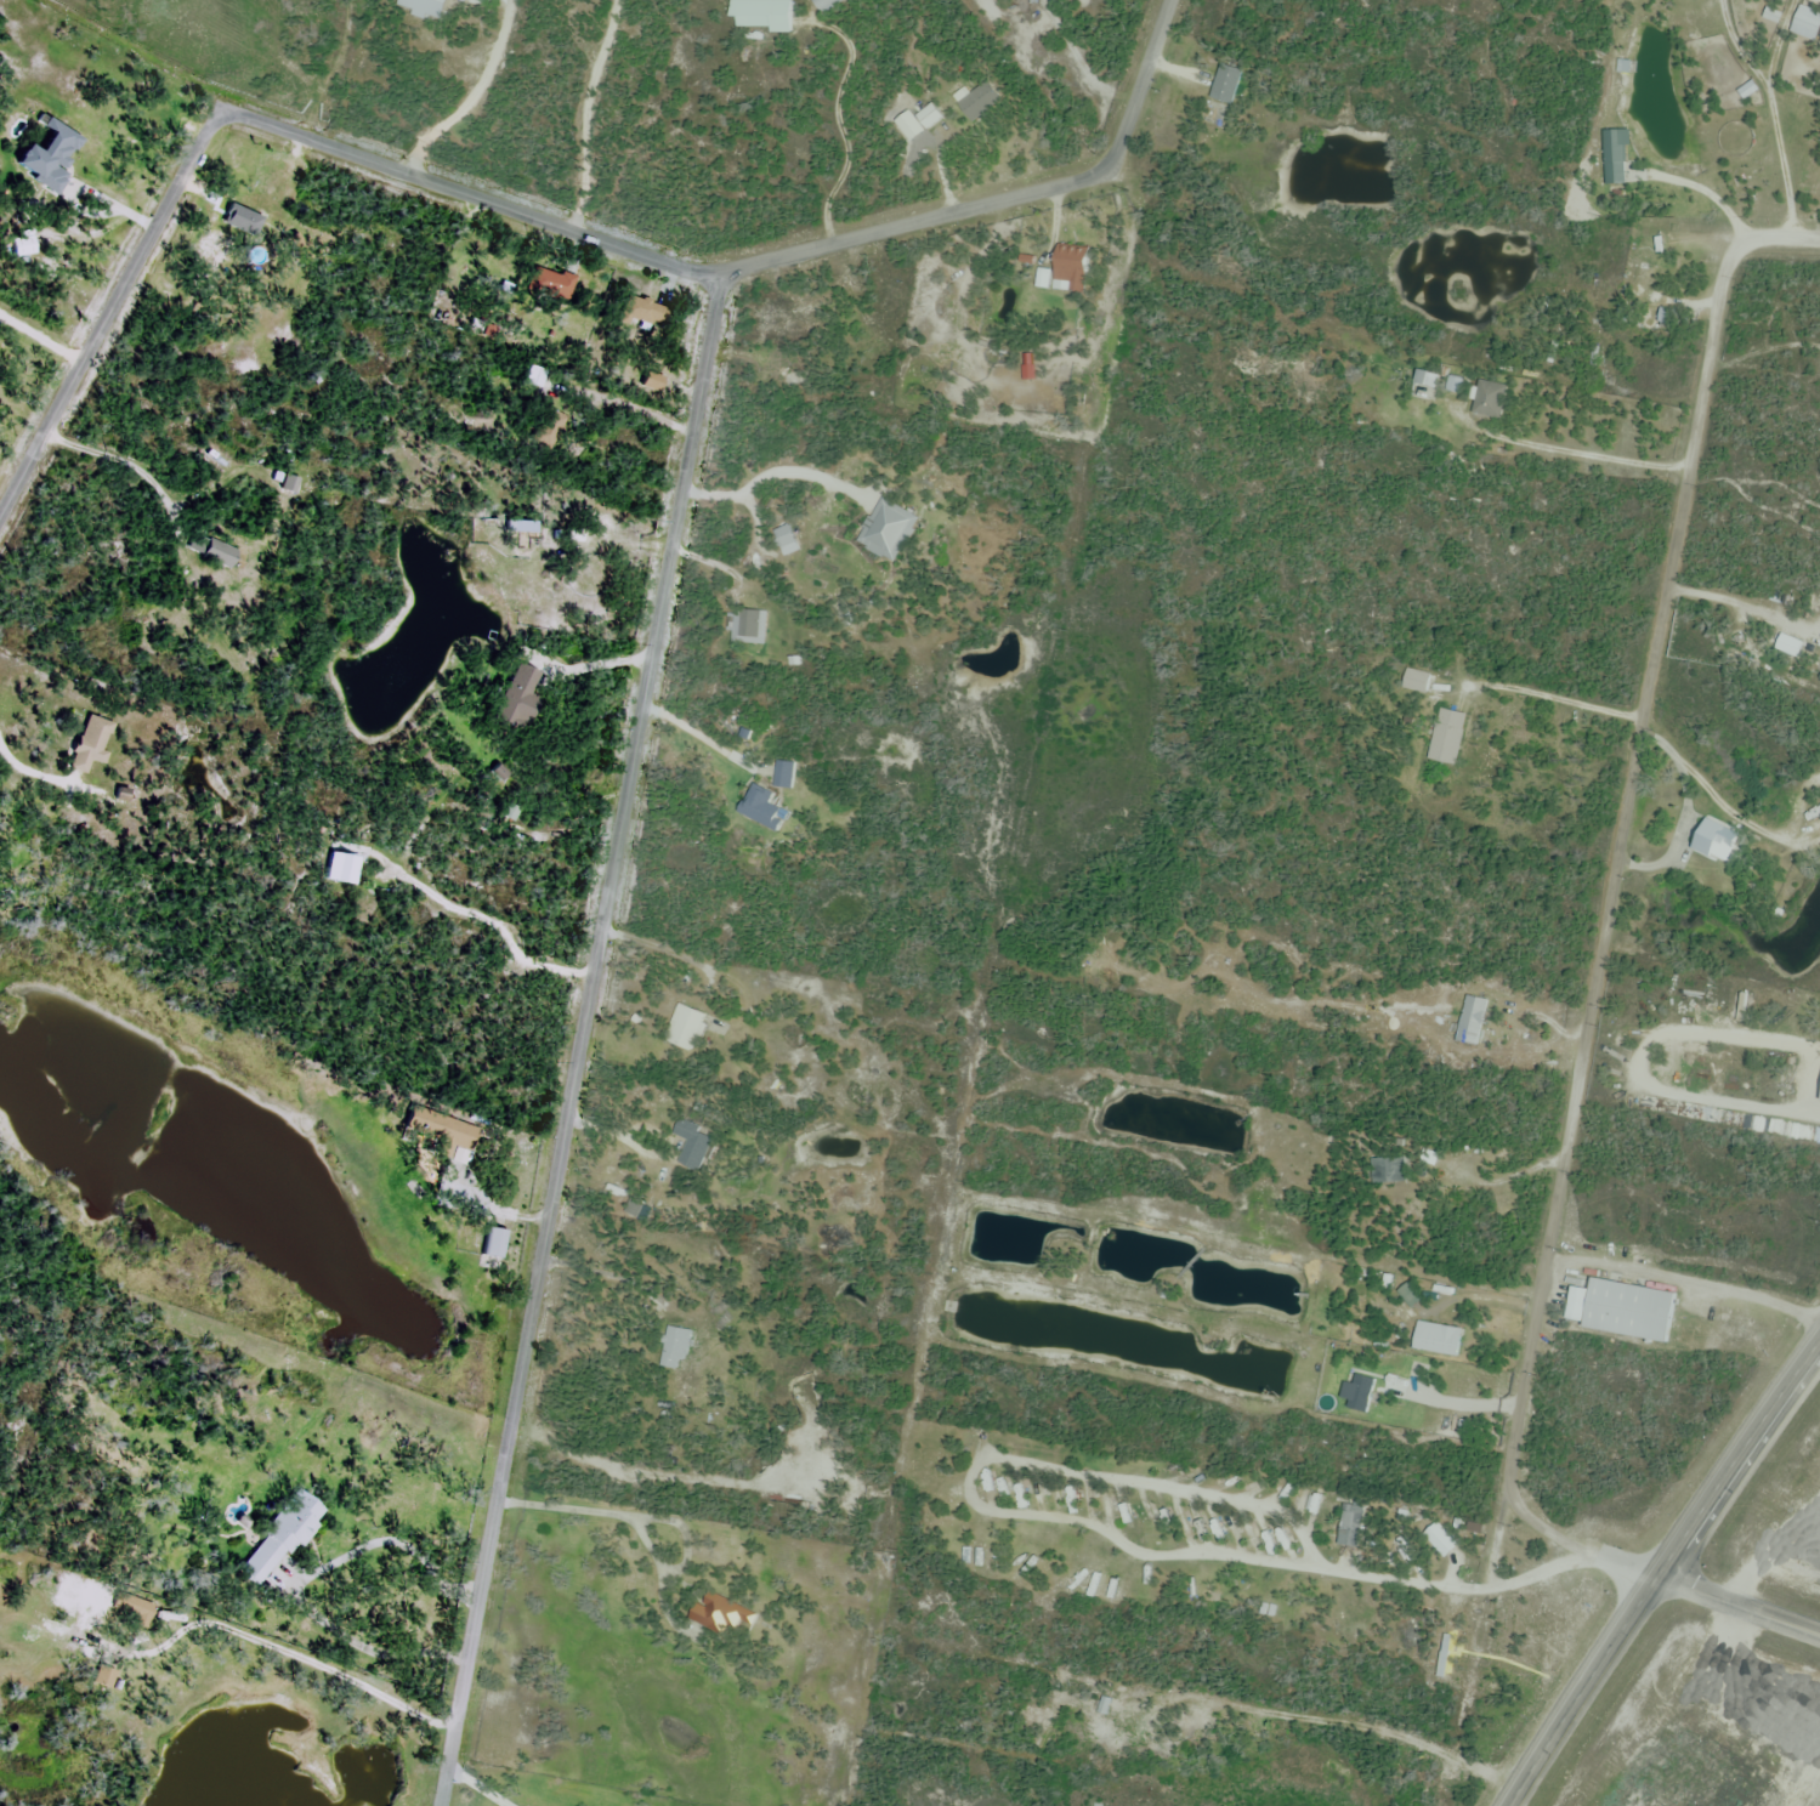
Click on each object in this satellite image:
building: (827, 5)
building: (761, 15)
road: (1775, 42)
road: (1736, 46)
building: (1225, 85)
building: (979, 103)
building: (47, 154)
building: (1615, 158)
road: (1781, 161)
road: (1705, 191)
road: (532, 216)
road: (1774, 237)
building: (211, 252)
building: (1068, 269)
building: (1649, 282)
building: (550, 284)
building: (856, 288)
building: (637, 312)
building: (796, 325)
building: (537, 376)
building: (652, 381)
building: (1061, 384)
building: (1423, 386)
building: (1487, 398)
building: (548, 427)
road: (1564, 445)
road: (772, 465)
building: (287, 483)
building: (520, 527)
building: (888, 532)
building: (784, 536)
building: (748, 627)
building: (1416, 682)
road: (1554, 693)
building: (520, 697)
road: (698, 737)
building: (1447, 738)
building: (90, 744)
building: (787, 776)
building: (760, 808)
building: (1712, 841)
road: (1609, 916)
building: (1204, 961)
building: (1470, 1021)
building: (685, 1029)
road: (585, 1038)
building: (441, 1131)
building: (694, 1146)
road: (1503, 1170)
building: (1389, 1171)
building: (472, 1242)
building: (494, 1245)
road: (1686, 1276)
building: (1436, 1340)
building: (675, 1348)
road: (1459, 1399)
building: (1019, 1493)
road: (1027, 1507)
building: (1350, 1526)
building: (1474, 1530)
building: (282, 1541)
road: (1574, 1541)
road: (1536, 1562)
road: (1657, 1571)
road: (1736, 1607)
building: (132, 1608)
building: (725, 1614)
road: (287, 1651)
building: (106, 1677)
building: (1187, 1726)
building: (1102, 1736)
road: (478, 1788)

